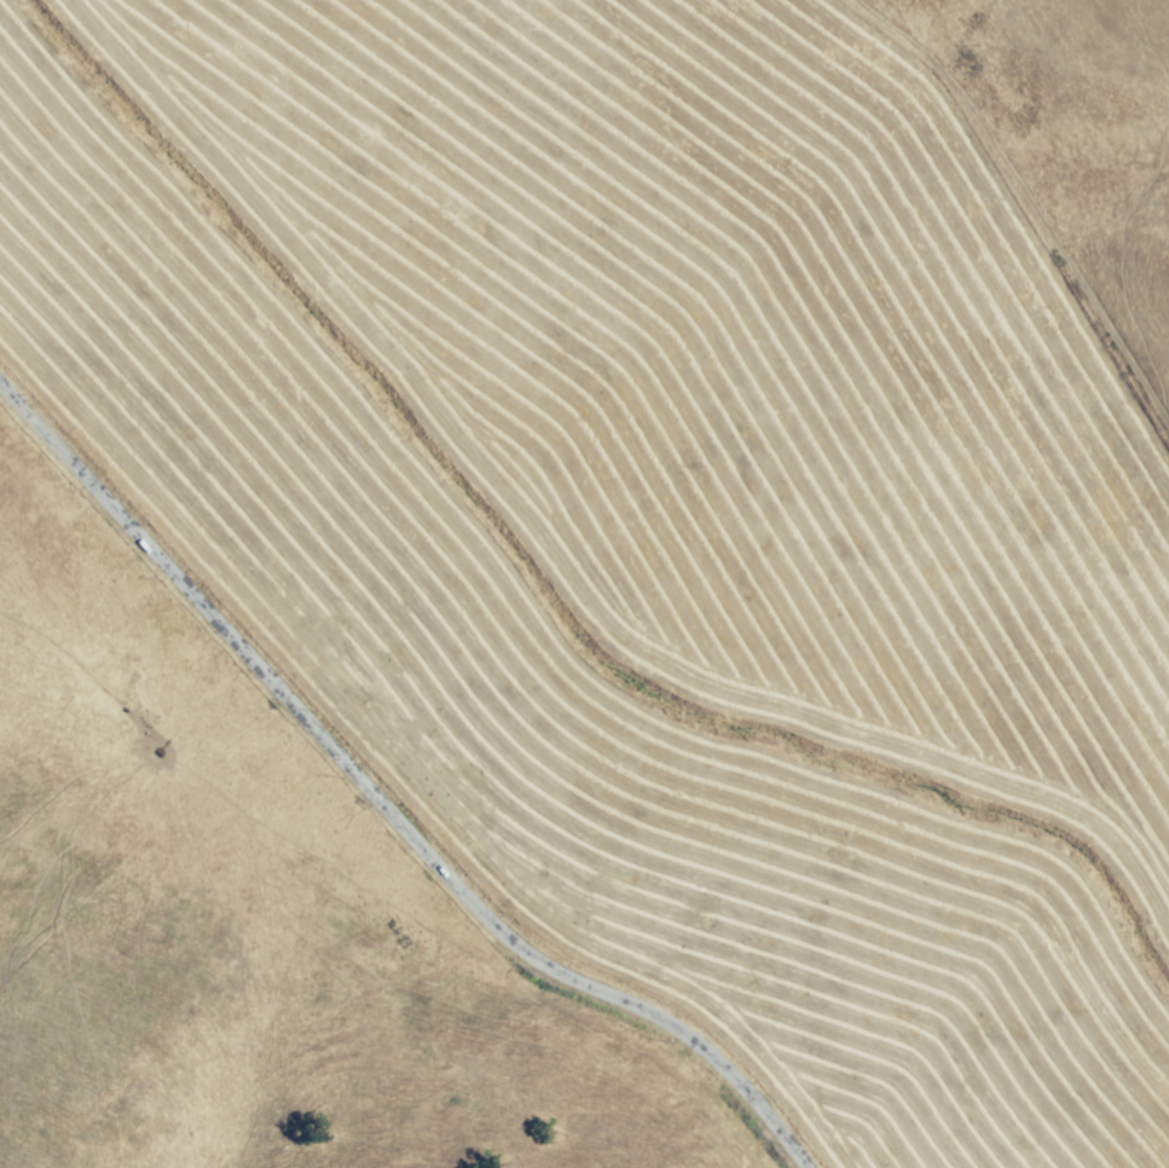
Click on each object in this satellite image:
crop: (660, 495)
road: (372, 808)

